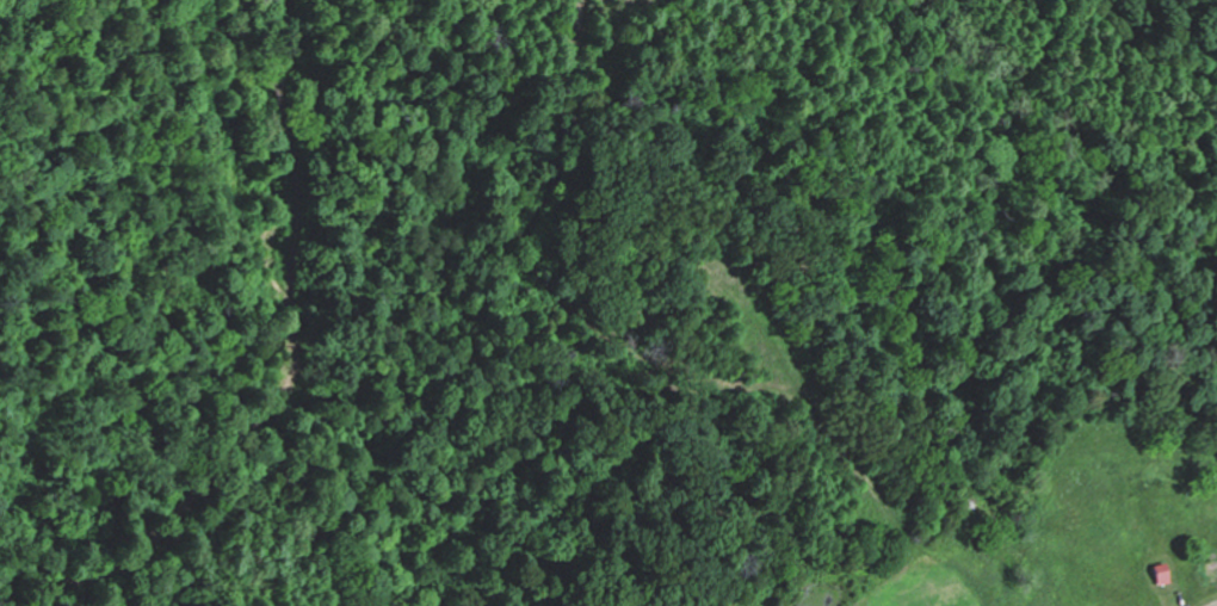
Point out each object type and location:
building: (1159, 577)
road: (1110, 596)
road: (1200, 601)

